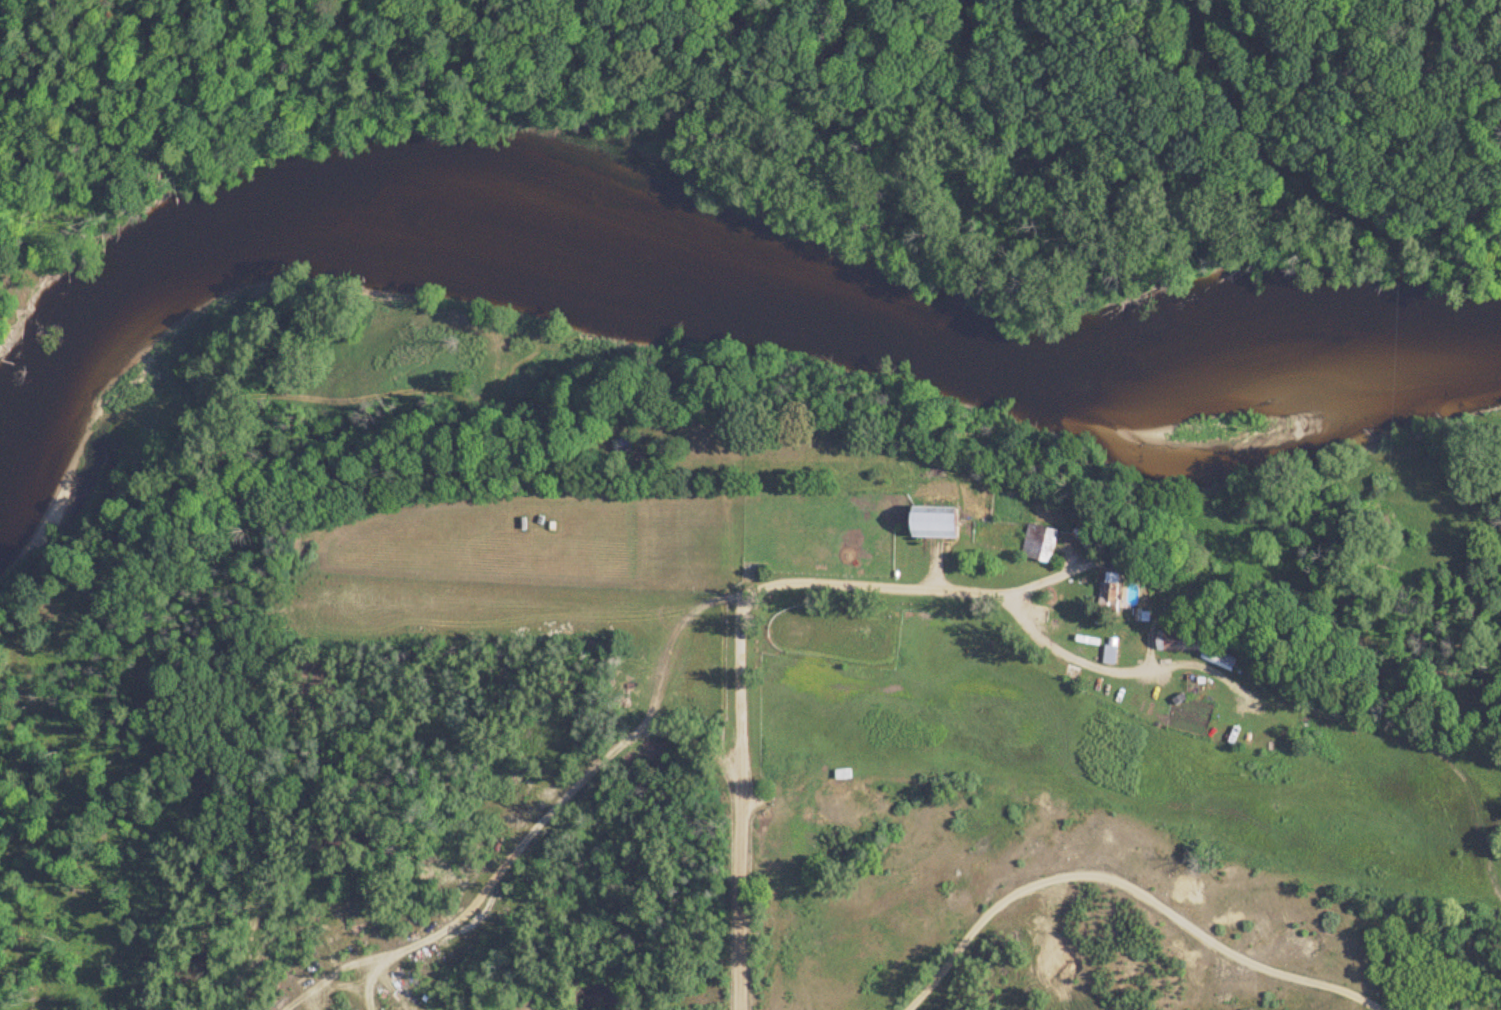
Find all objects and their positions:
river: (685, 267)
road: (563, 501)
building: (930, 524)
building: (1035, 544)
road: (1007, 601)
building: (1175, 642)
road: (735, 756)
building: (840, 775)
road: (893, 800)
road: (512, 856)
road: (1126, 877)
road: (567, 940)

